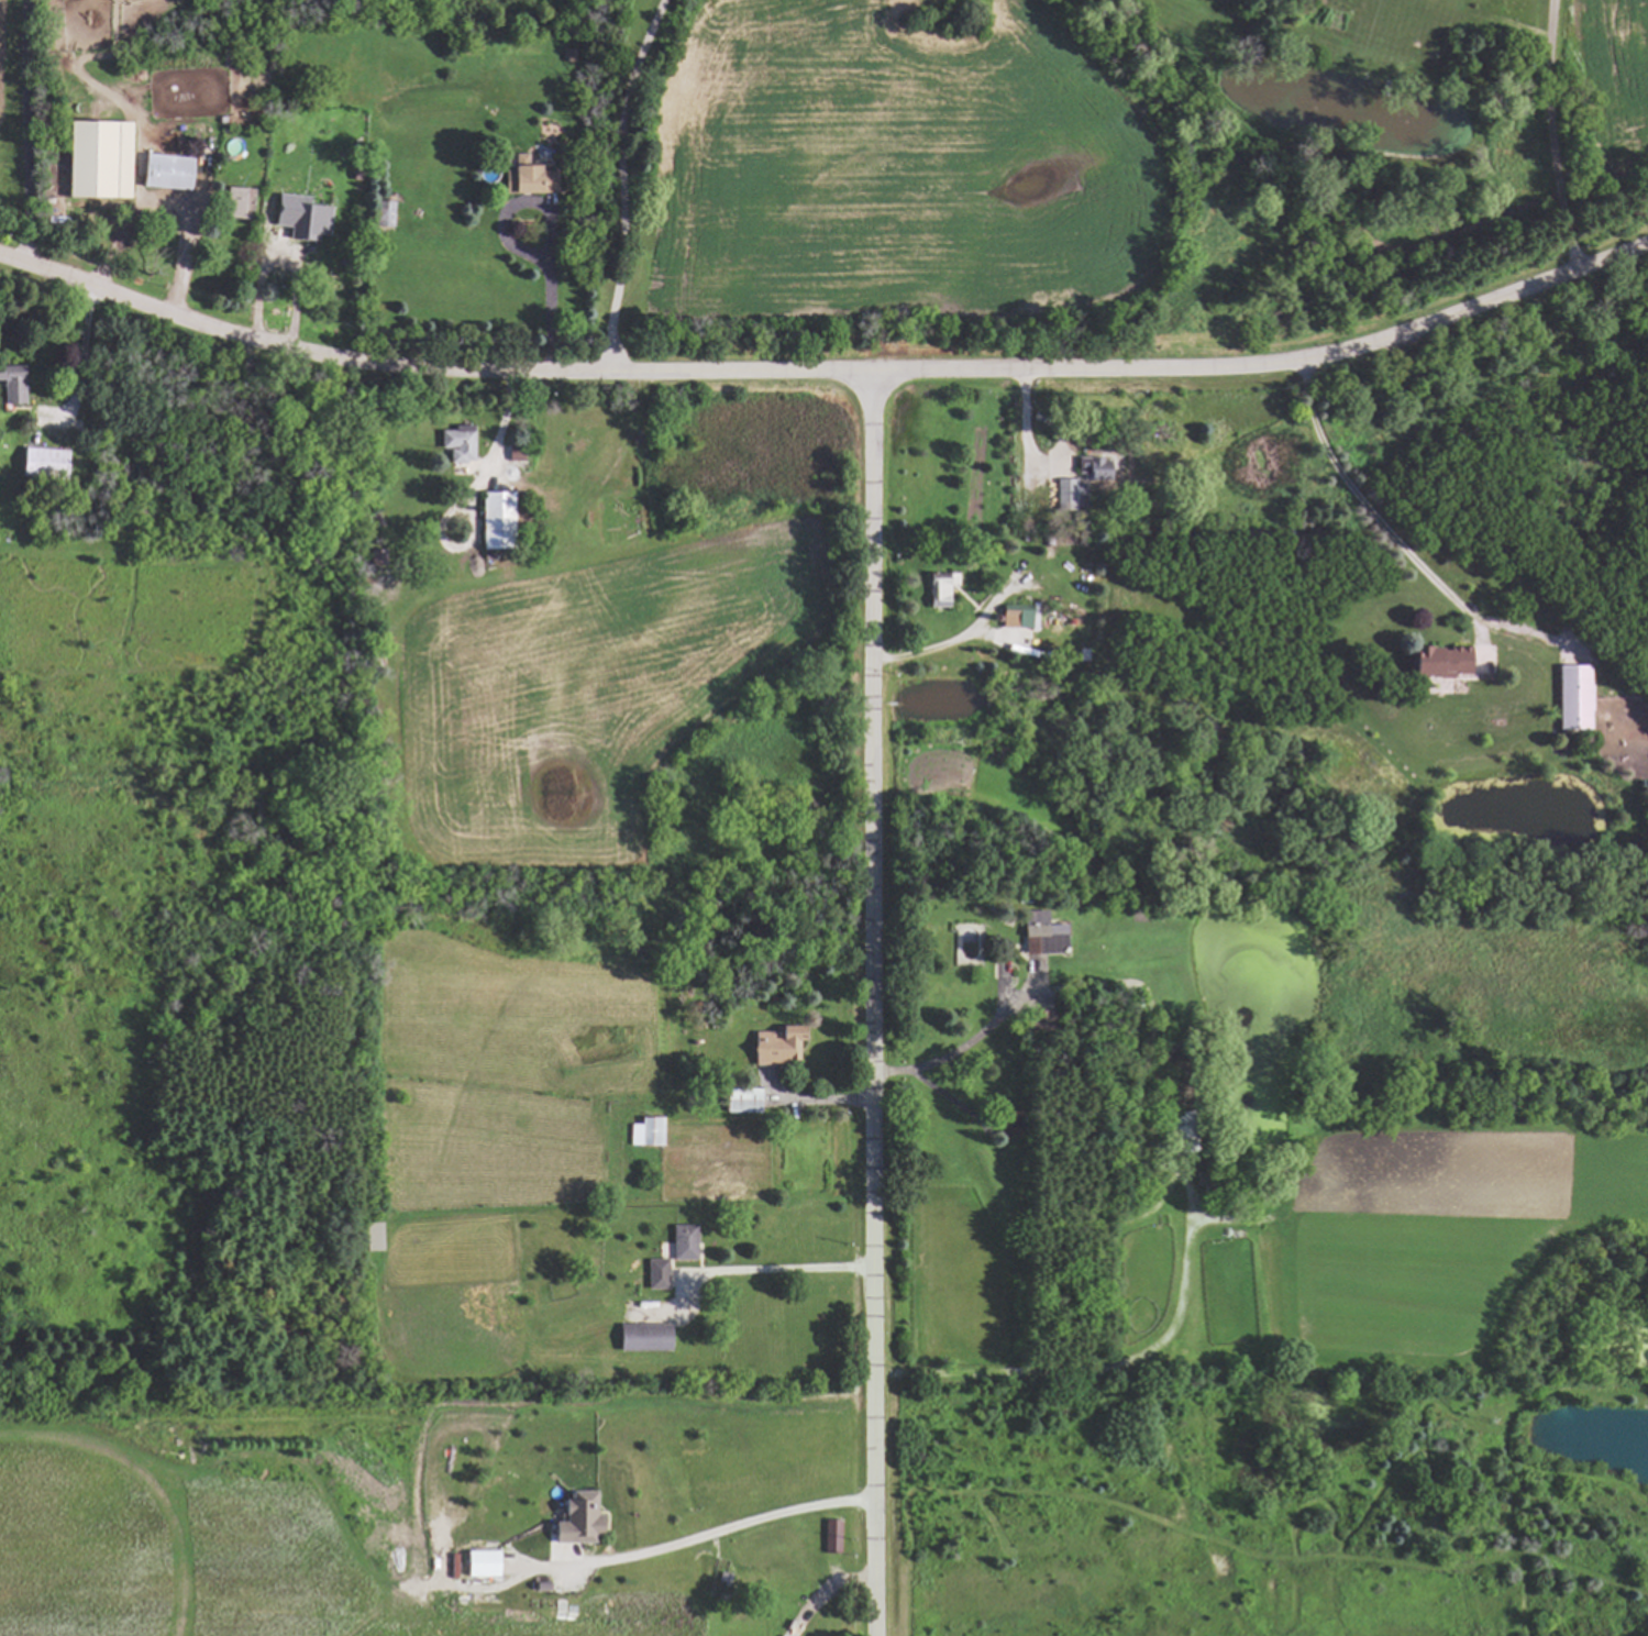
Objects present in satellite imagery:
road: (29, 130)
road: (1562, 132)
building: (97, 161)
building: (163, 173)
building: (519, 177)
road: (620, 183)
building: (235, 202)
building: (381, 214)
building: (299, 218)
road: (178, 257)
road: (549, 297)
road: (73, 346)
road: (825, 374)
building: (8, 387)
building: (455, 444)
building: (41, 464)
building: (1094, 468)
building: (1068, 497)
road: (1368, 507)
building: (491, 522)
building: (938, 588)
road: (952, 641)
building: (1436, 661)
building: (1573, 697)
building: (1040, 937)
road: (867, 1004)
building: (774, 1046)
road: (960, 1049)
building: (741, 1101)
building: (644, 1131)
building: (682, 1242)
road: (757, 1270)
building: (655, 1274)
building: (641, 1337)
building: (575, 1519)
road: (727, 1530)
building: (830, 1536)
building: (478, 1563)
road: (820, 1593)

